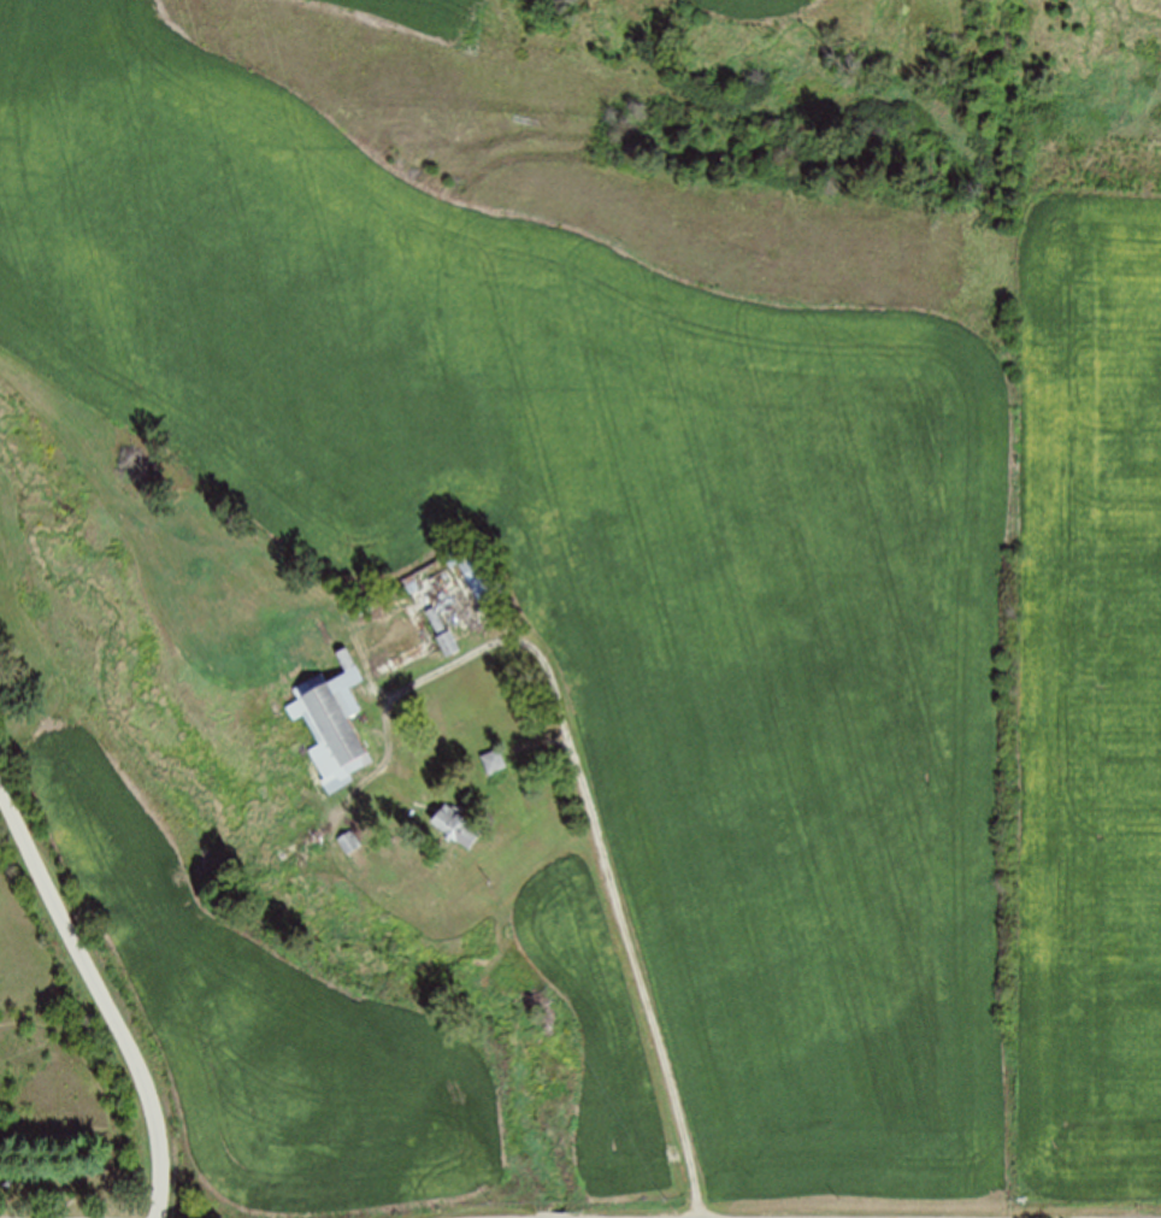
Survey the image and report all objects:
road: (494, 455)
building: (430, 572)
building: (449, 642)
building: (328, 722)
road: (538, 741)
building: (495, 760)
building: (456, 823)
building: (349, 841)
road: (603, 854)
road: (98, 1000)

